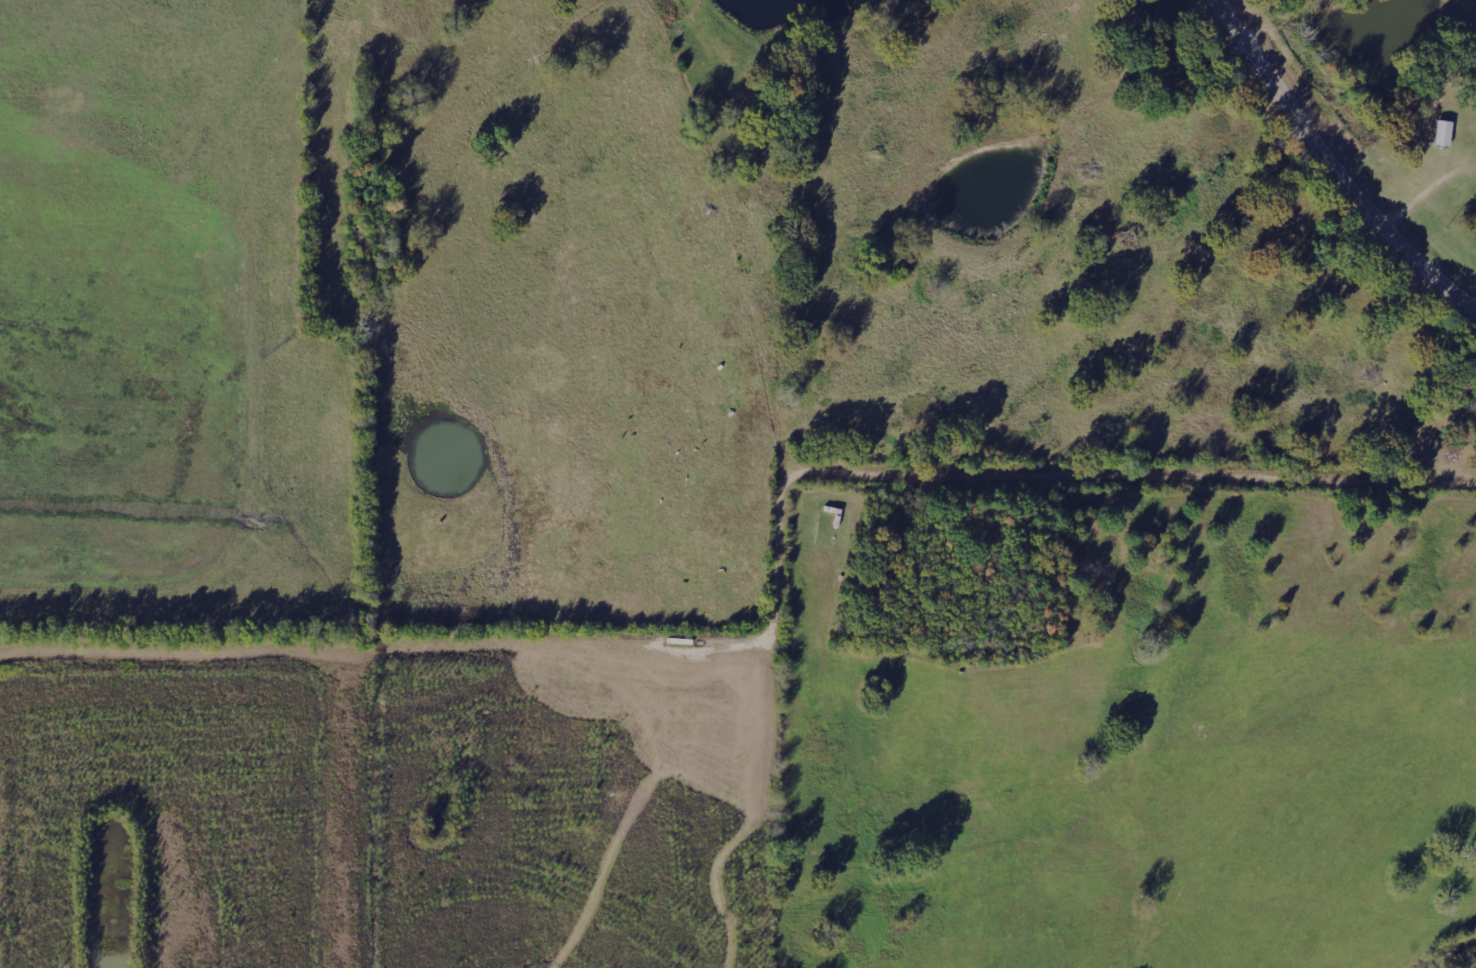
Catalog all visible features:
road: (1329, 172)
road: (782, 605)

